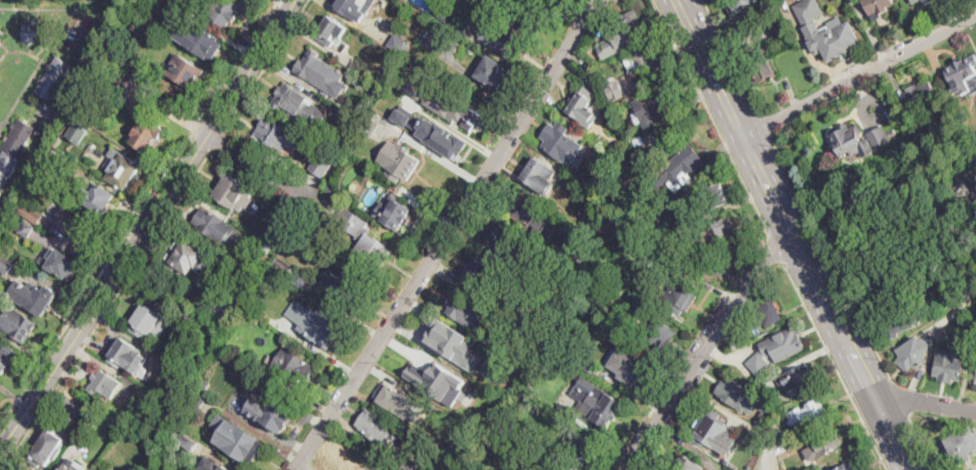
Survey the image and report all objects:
building: (852, 0)
building: (914, 1)
building: (741, 5)
building: (878, 6)
building: (357, 8)
building: (526, 9)
building: (228, 11)
building: (446, 17)
building: (746, 26)
building: (627, 29)
building: (331, 30)
building: (1, 31)
building: (34, 31)
building: (826, 31)
building: (434, 38)
building: (502, 39)
building: (203, 40)
building: (399, 40)
road: (731, 55)
building: (439, 62)
building: (646, 62)
building: (760, 66)
building: (185, 71)
building: (365, 71)
building: (321, 72)
building: (491, 72)
building: (593, 74)
building: (962, 75)
building: (54, 77)
road: (856, 80)
building: (415, 86)
building: (372, 89)
building: (616, 89)
building: (920, 94)
building: (291, 98)
building: (582, 104)
building: (655, 105)
building: (454, 106)
building: (106, 108)
building: (339, 114)
building: (959, 114)
building: (402, 115)
road: (710, 115)
road: (765, 123)
building: (370, 126)
building: (79, 131)
building: (272, 131)
building: (147, 135)
building: (881, 135)
building: (441, 136)
building: (851, 141)
building: (562, 142)
building: (14, 147)
building: (90, 147)
building: (643, 147)
building: (69, 161)
building: (323, 161)
road: (253, 162)
building: (399, 162)
building: (681, 167)
building: (123, 171)
building: (535, 171)
building: (333, 182)
building: (964, 188)
building: (235, 193)
building: (97, 196)
building: (714, 197)
road: (765, 198)
road: (788, 200)
building: (673, 204)
building: (31, 212)
building: (393, 212)
road: (138, 214)
building: (532, 216)
building: (289, 222)
road: (145, 224)
building: (214, 225)
building: (27, 229)
building: (86, 231)
road: (158, 231)
road: (449, 234)
building: (717, 236)
building: (365, 238)
building: (507, 241)
road: (775, 243)
building: (265, 246)
building: (639, 249)
building: (583, 253)
building: (737, 253)
building: (189, 257)
road: (831, 257)
building: (647, 260)
building: (31, 262)
building: (6, 263)
building: (61, 263)
building: (479, 270)
building: (298, 278)
building: (342, 285)
building: (679, 295)
building: (39, 300)
building: (465, 311)
building: (766, 312)
building: (522, 314)
building: (896, 322)
building: (149, 323)
building: (515, 323)
building: (18, 324)
building: (611, 324)
building: (320, 328)
building: (660, 336)
building: (444, 341)
road: (711, 343)
building: (735, 345)
building: (777, 348)
building: (913, 353)
building: (125, 354)
building: (240, 354)
building: (268, 358)
building: (5, 359)
road: (834, 363)
building: (293, 365)
building: (257, 366)
building: (588, 366)
building: (627, 366)
building: (948, 366)
building: (166, 367)
building: (225, 369)
building: (429, 371)
building: (471, 374)
building: (797, 380)
building: (975, 381)
building: (204, 382)
building: (529, 382)
building: (105, 384)
building: (736, 393)
building: (393, 395)
road: (900, 397)
building: (196, 399)
building: (460, 407)
building: (600, 408)
road: (920, 408)
building: (568, 410)
building: (273, 411)
building: (808, 415)
road: (739, 418)
building: (761, 425)
building: (378, 426)
building: (713, 432)
road: (882, 434)
road: (637, 435)
road: (907, 436)
building: (441, 437)
building: (187, 440)
building: (780, 440)
building: (533, 441)
road: (922, 443)
building: (825, 444)
road: (653, 445)
building: (962, 445)
building: (48, 448)
building: (247, 450)
building: (577, 453)
road: (4, 460)
building: (689, 464)
building: (216, 465)
building: (340, 465)
building: (409, 465)
road: (7, 466)
building: (72, 467)
building: (547, 467)
building: (847, 467)
building: (464, 469)

